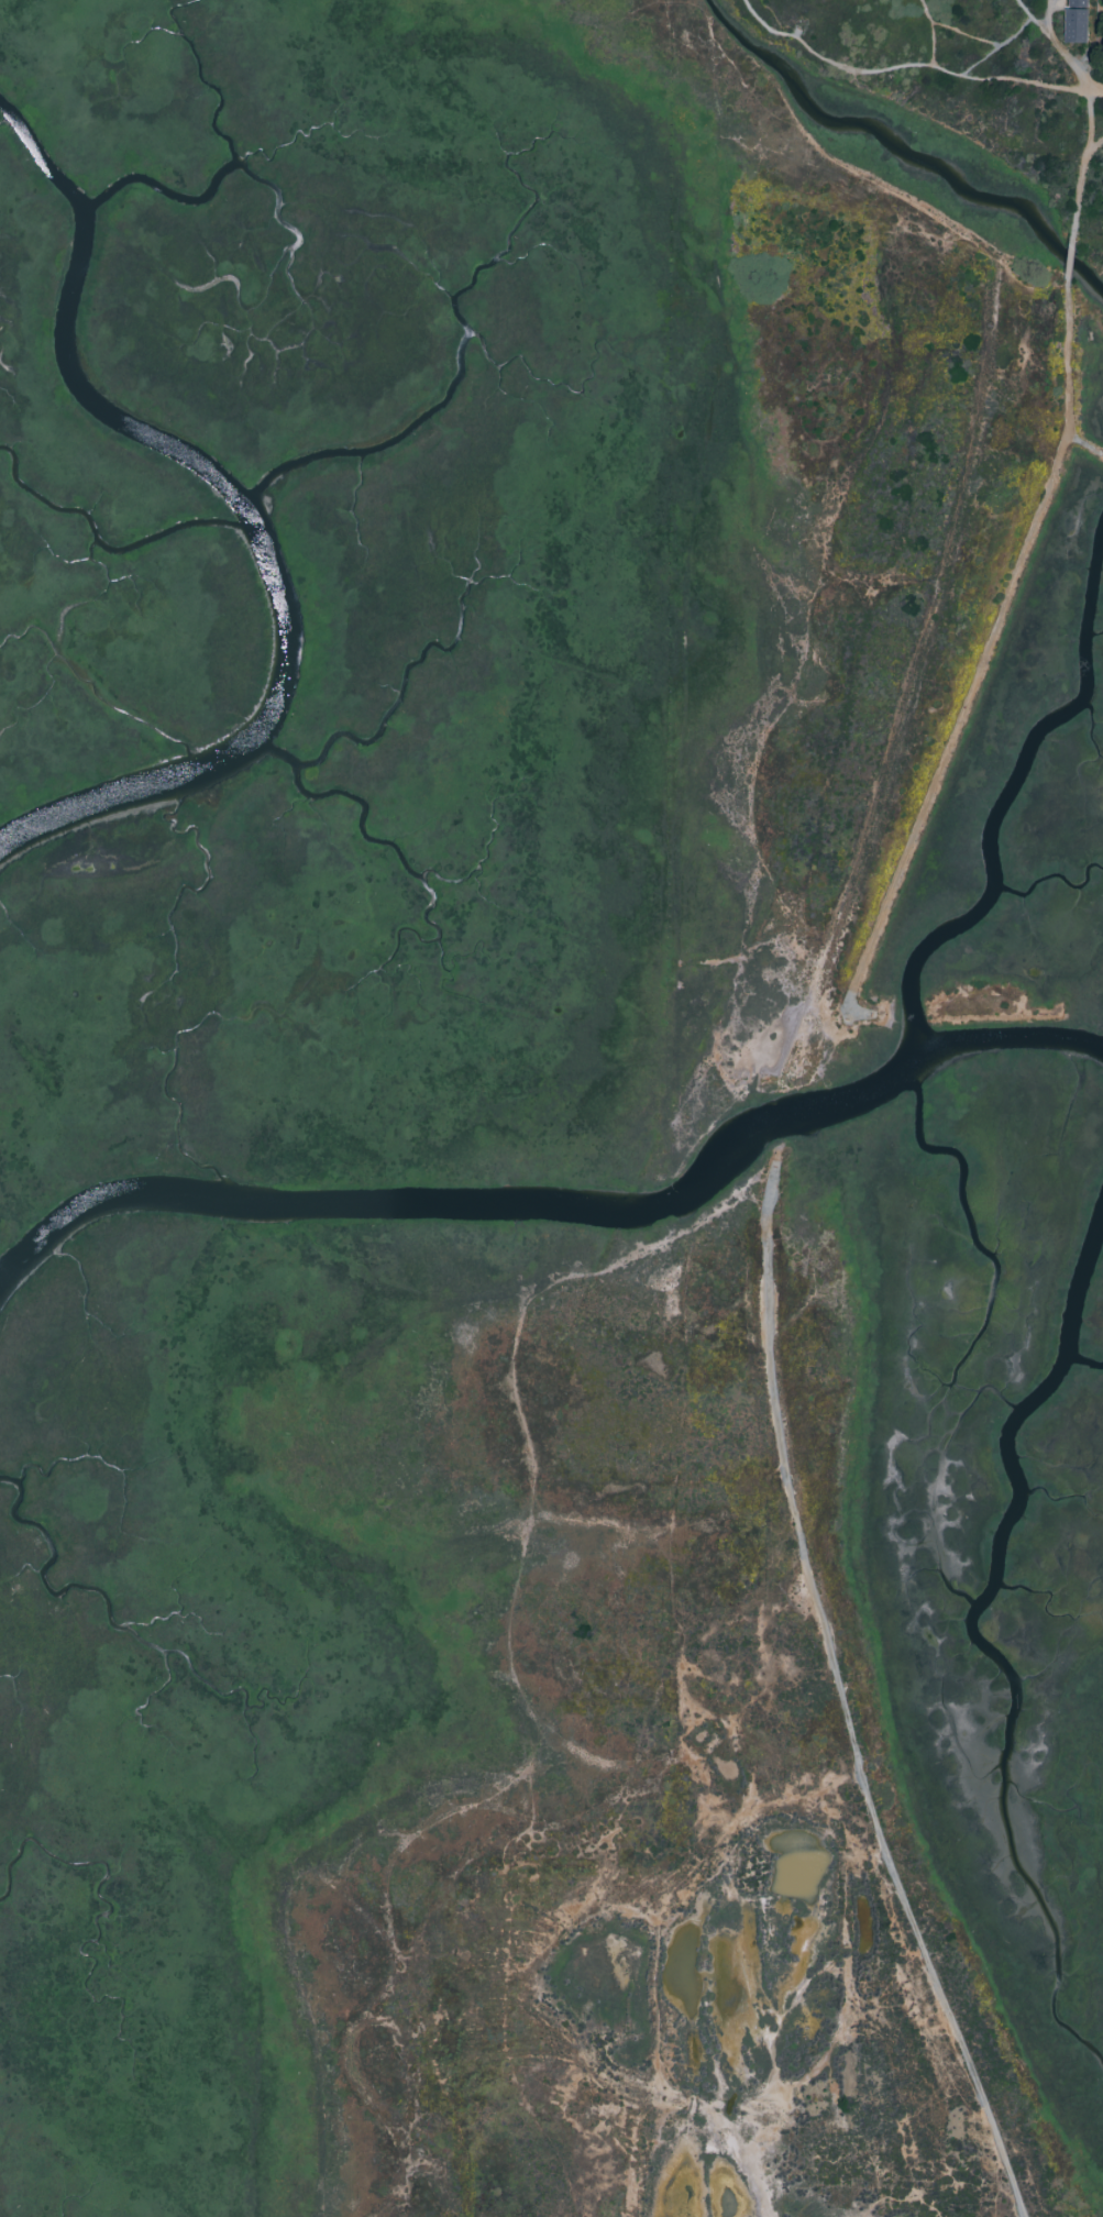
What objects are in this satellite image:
building: (1072, 21)
road: (986, 44)
road: (1060, 44)
building: (1102, 56)
road: (978, 63)
road: (857, 71)
road: (1012, 80)
road: (1099, 89)
road: (1098, 145)
river: (905, 150)
road: (1089, 166)
river: (170, 195)
road: (1068, 260)
river: (244, 514)
road: (989, 661)
river: (738, 1155)
road: (839, 1698)

